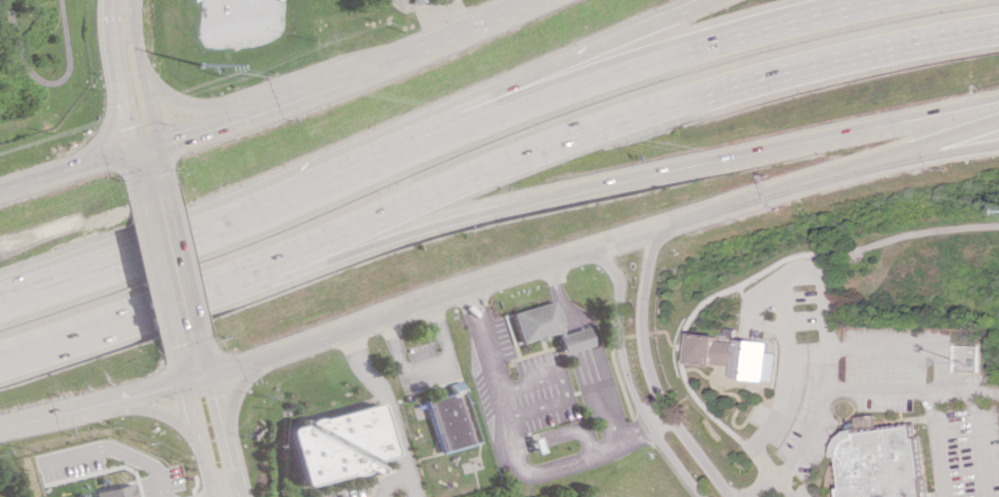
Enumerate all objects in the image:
building: (412, 1)
road: (123, 4)
road: (654, 58)
park: (38, 60)
road: (571, 63)
road: (126, 76)
road: (334, 76)
road: (44, 82)
road: (173, 100)
traffic signals: (135, 123)
road: (605, 126)
road: (103, 132)
traffic signals: (169, 133)
road: (942, 138)
road: (941, 150)
road: (69, 166)
traffic signals: (147, 176)
road: (147, 177)
road: (611, 178)
road: (772, 191)
road: (222, 229)
road: (616, 239)
road: (807, 268)
road: (169, 271)
road: (761, 276)
road: (114, 319)
building: (544, 327)
road: (769, 327)
road: (593, 339)
traffic signals: (186, 341)
road: (287, 347)
parking lot: (799, 354)
road: (969, 354)
road: (189, 355)
building: (736, 356)
road: (422, 365)
road: (625, 370)
road: (649, 371)
traffic signals: (171, 386)
road: (878, 392)
road: (964, 392)
traffic signals: (212, 400)
road: (146, 406)
road: (380, 409)
building: (443, 419)
road: (220, 434)
road: (198, 440)
building: (331, 444)
road: (936, 444)
road: (503, 447)
road: (116, 451)
building: (882, 464)
road: (383, 481)
road: (766, 488)
road: (780, 488)
building: (117, 491)
road: (223, 496)
road: (225, 496)

